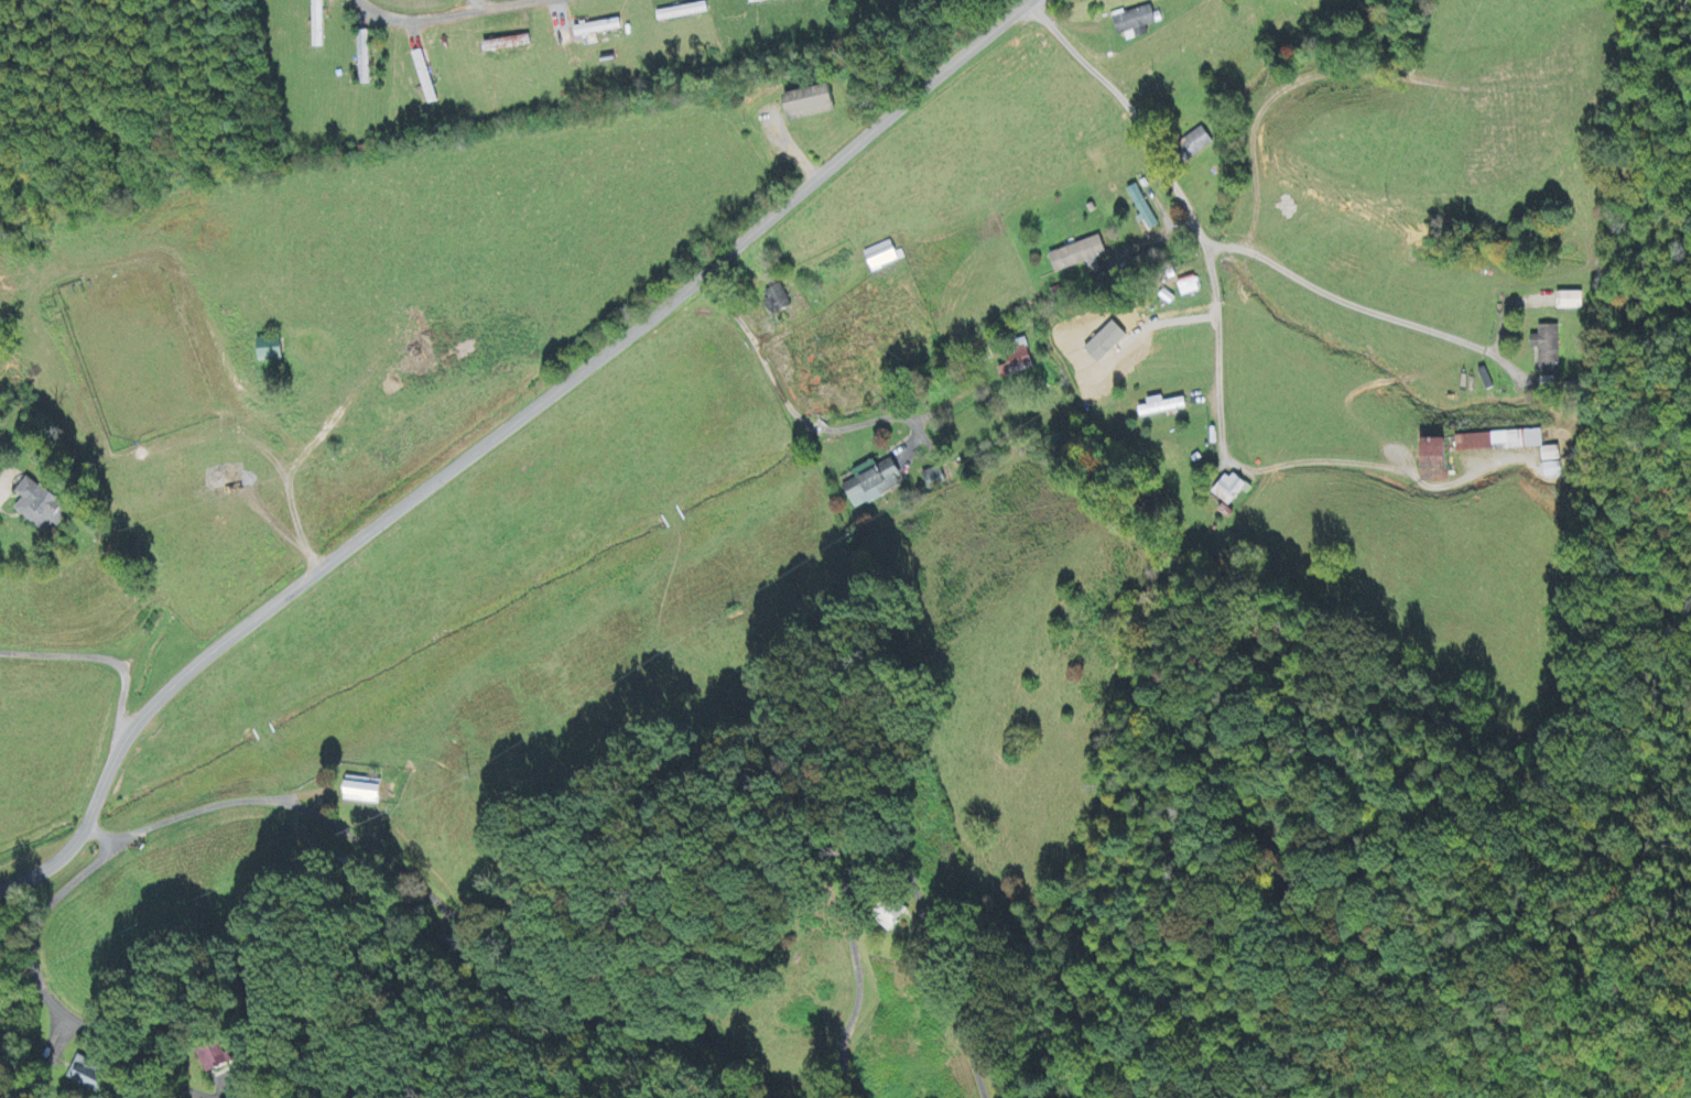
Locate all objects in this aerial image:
road: (503, 8)
road: (411, 20)
building: (1136, 23)
building: (319, 24)
building: (600, 30)
building: (366, 59)
building: (813, 104)
building: (1203, 141)
road: (1182, 197)
building: (1142, 208)
building: (1080, 256)
building: (1572, 303)
building: (1549, 350)
building: (272, 351)
building: (1017, 365)
road: (782, 396)
building: (1164, 409)
road: (495, 435)
building: (1502, 443)
building: (1440, 463)
building: (1553, 463)
building: (933, 478)
building: (874, 483)
building: (1231, 490)
building: (44, 508)
road: (100, 656)
building: (366, 793)
road: (98, 834)
road: (885, 852)
road: (449, 914)
road: (51, 1000)
road: (1185, 1014)
building: (215, 1058)
building: (88, 1076)

